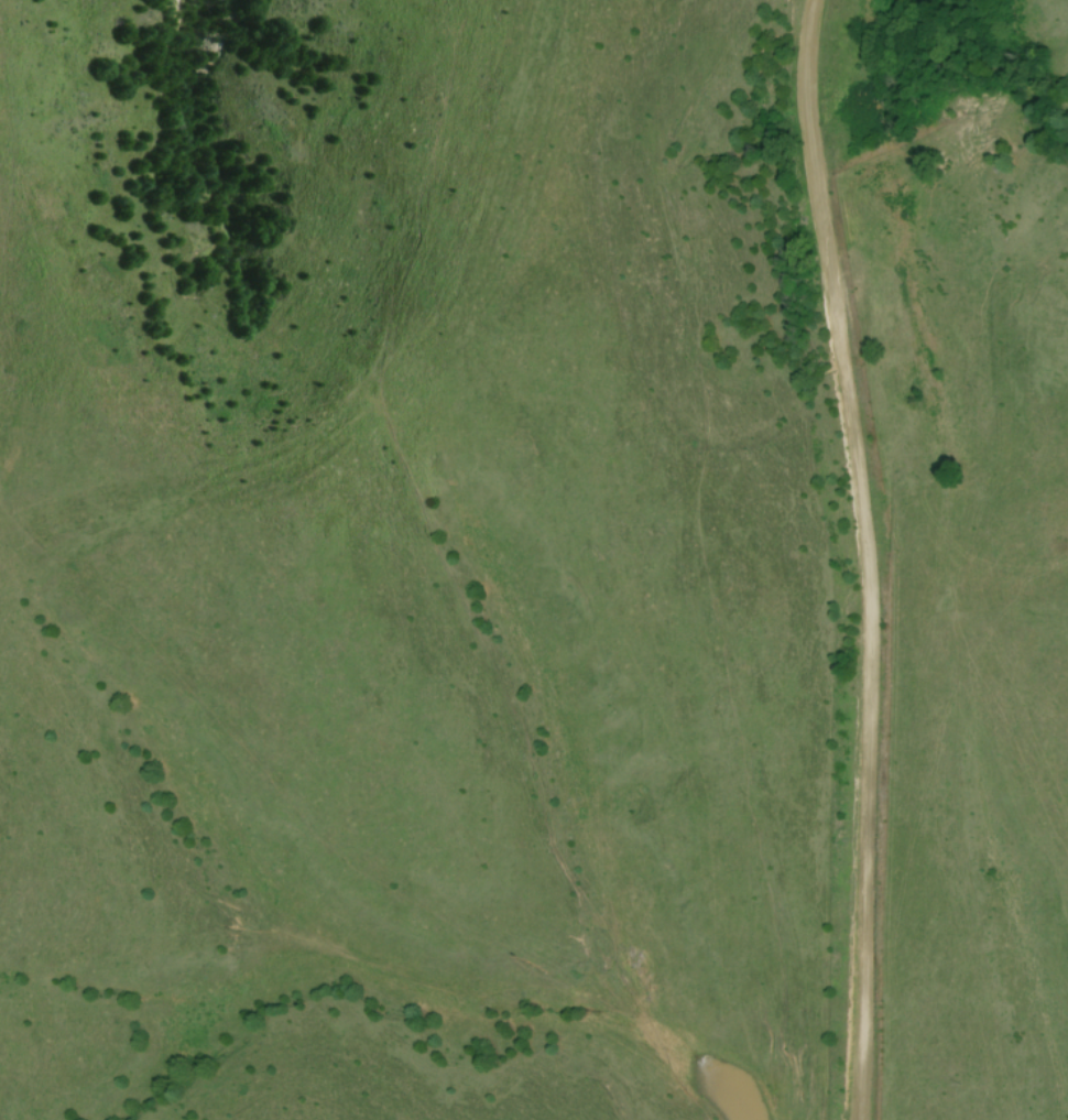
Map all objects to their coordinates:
road: (867, 557)

